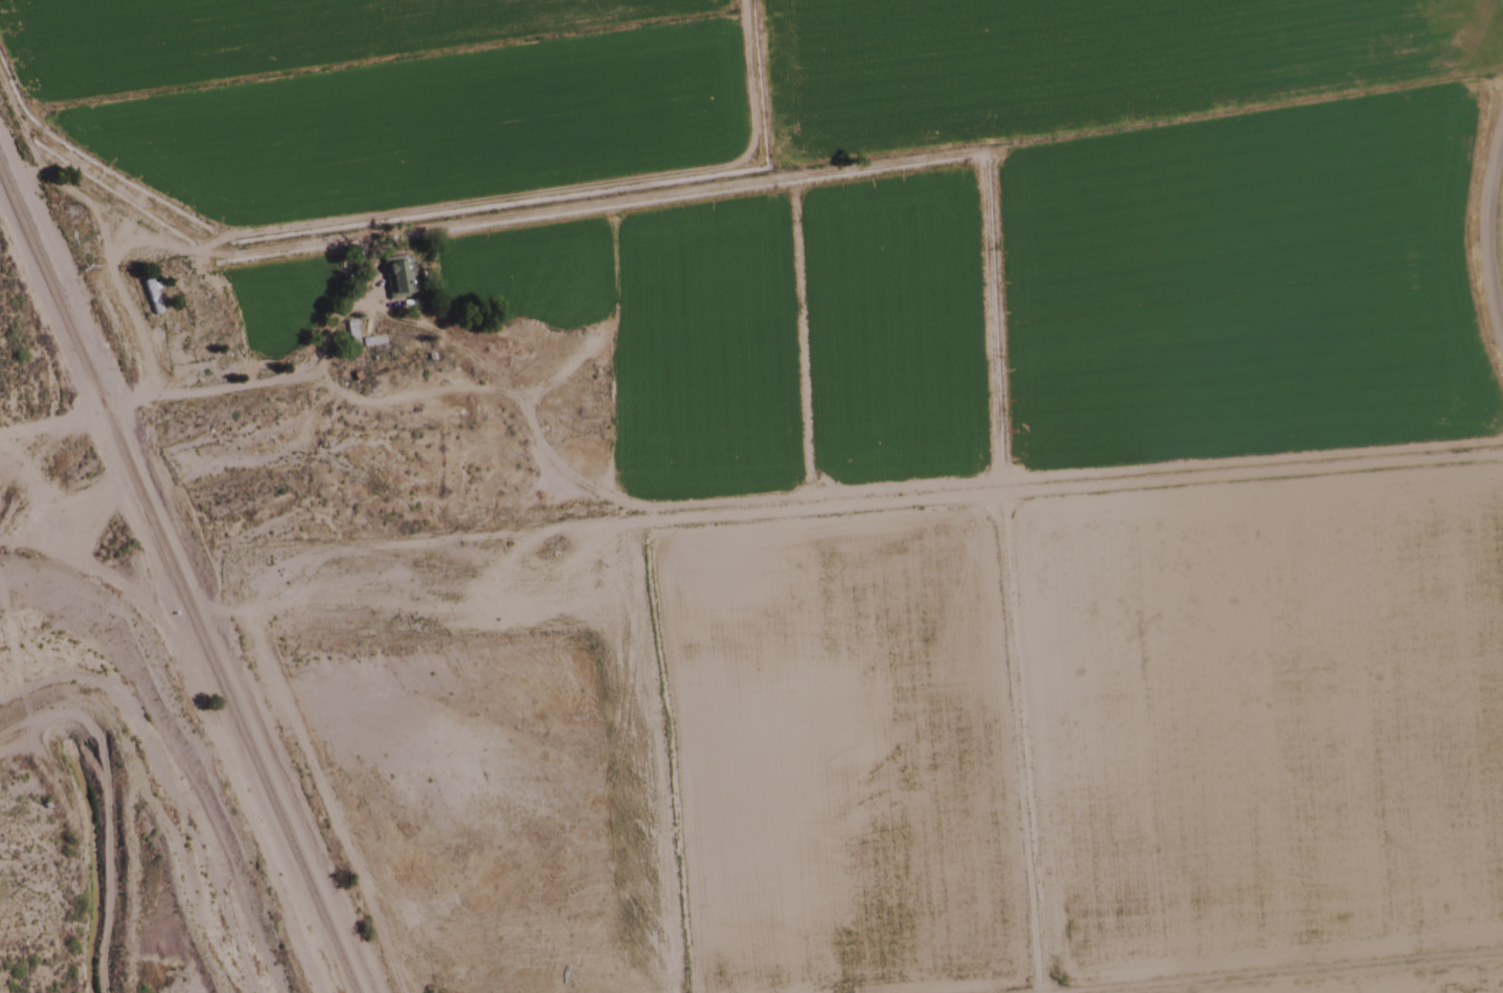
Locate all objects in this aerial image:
road: (1487, 229)
building: (150, 296)
building: (350, 334)
building: (371, 342)
building: (190, 346)
road: (139, 399)
building: (455, 411)
railway: (176, 583)

